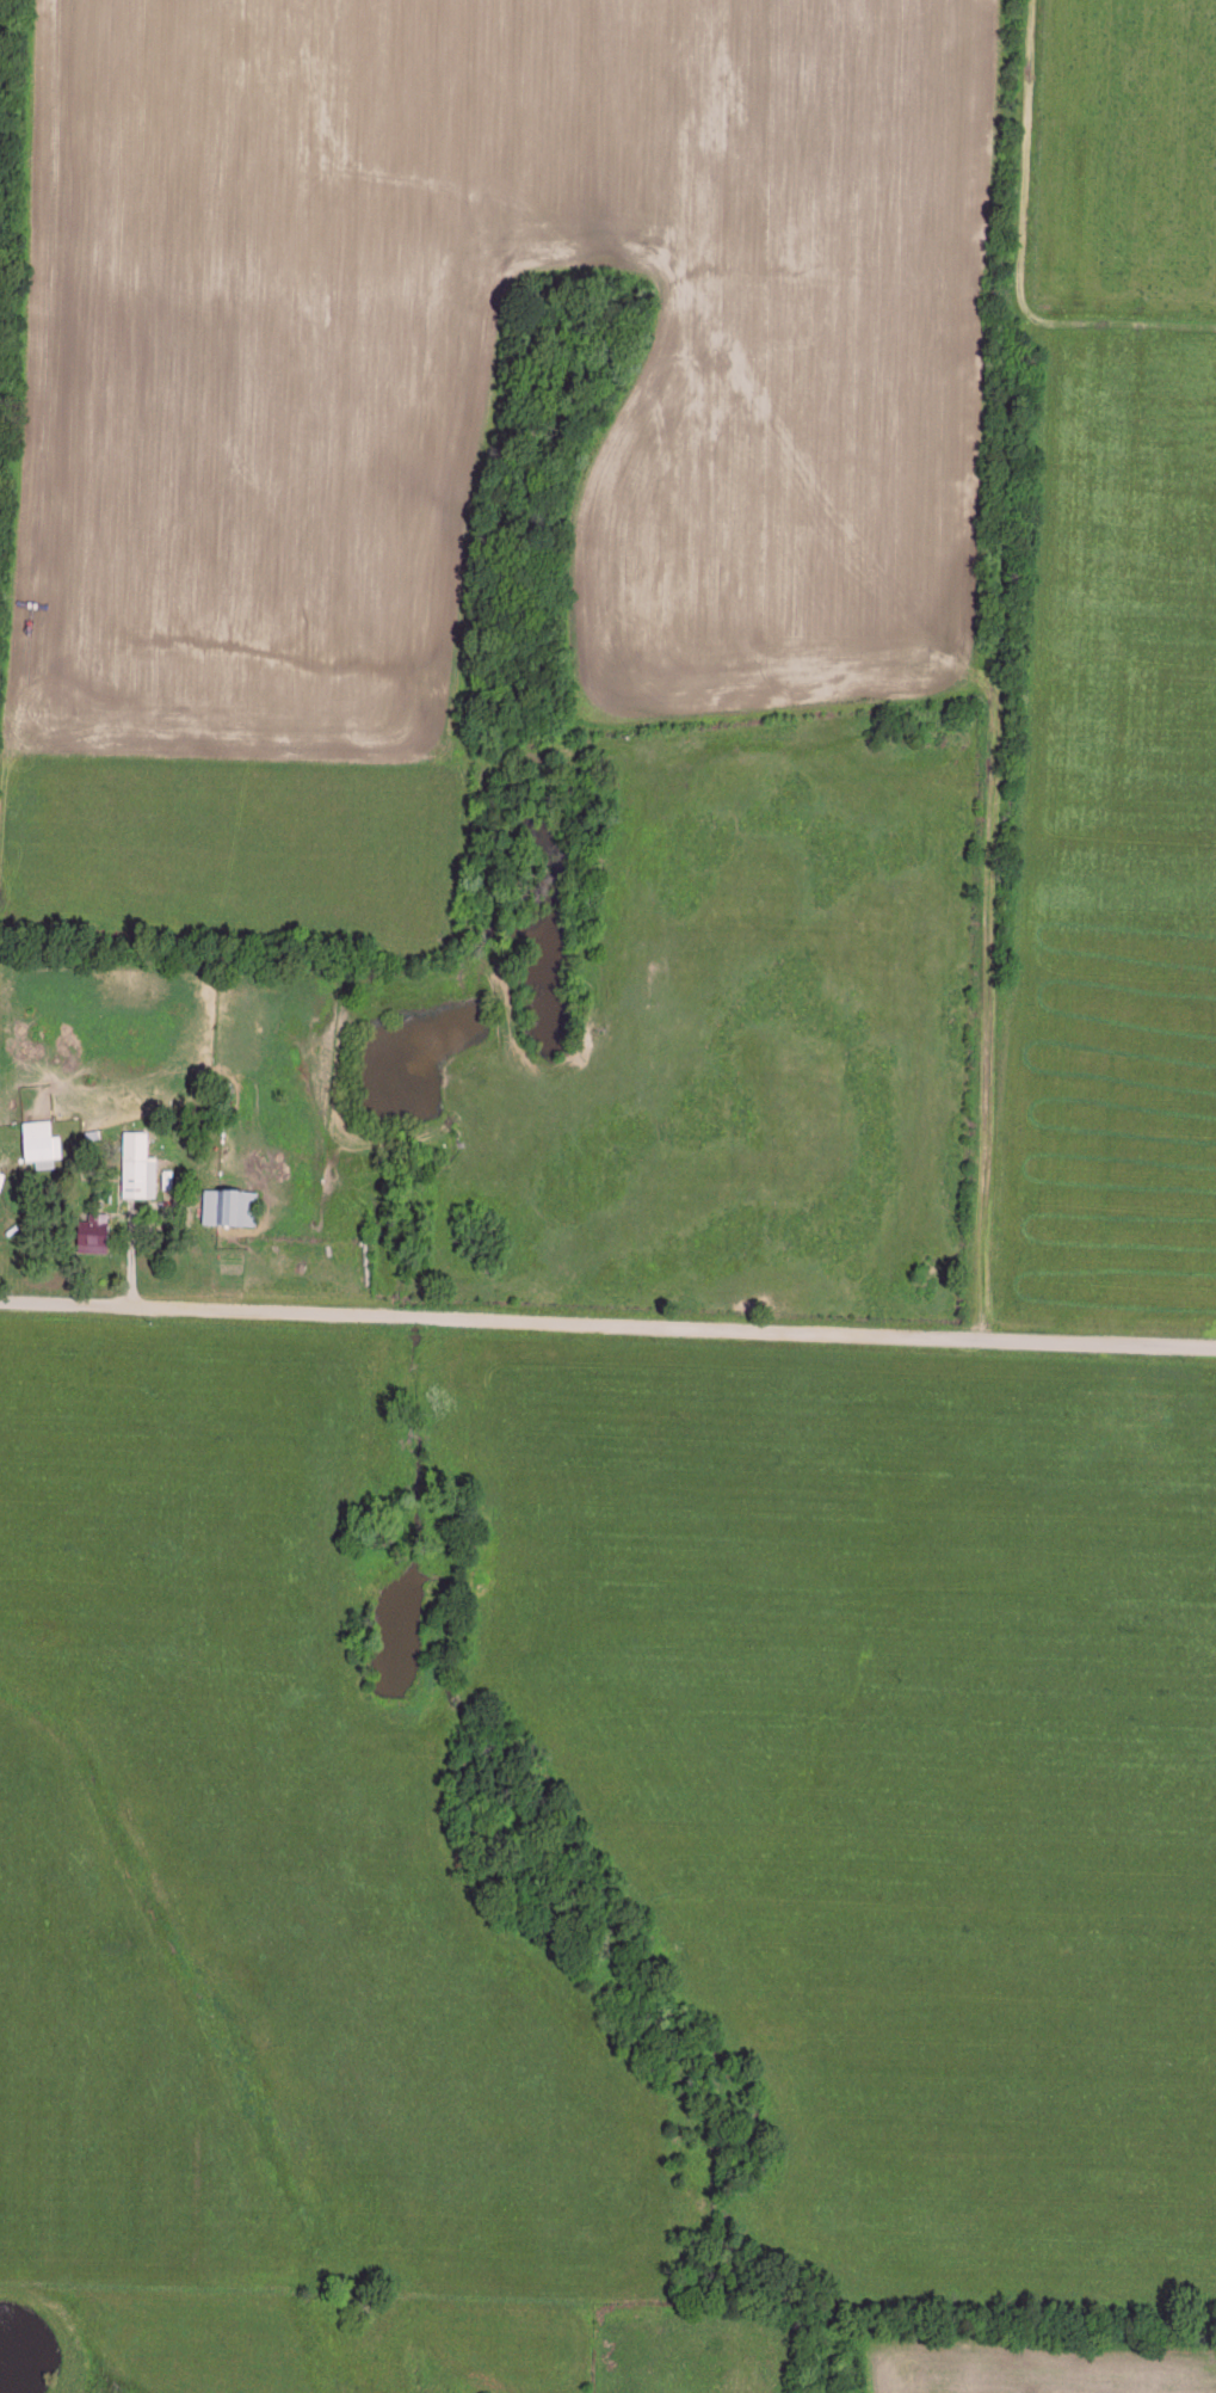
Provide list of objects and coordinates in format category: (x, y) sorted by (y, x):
road: (1002, 670)
building: (39, 1142)
building: (136, 1164)
building: (228, 1205)
road: (607, 1327)

